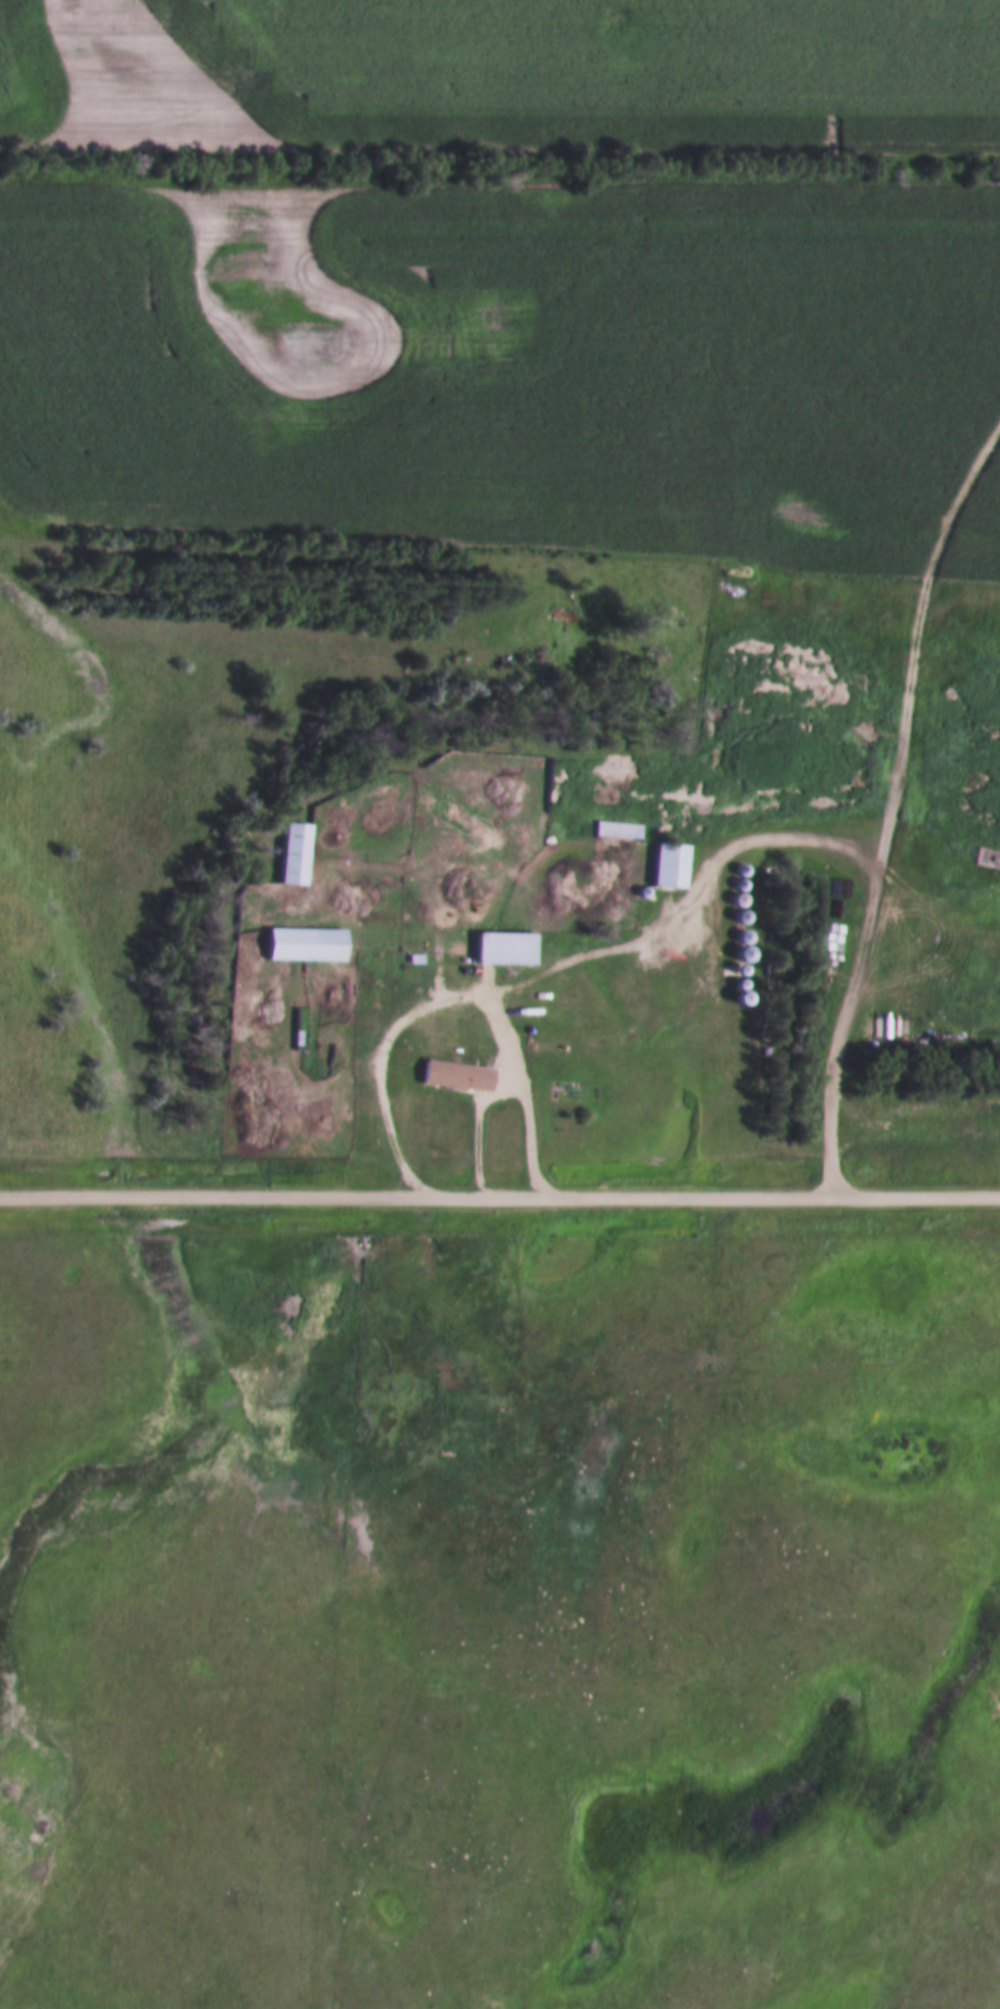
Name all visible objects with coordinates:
road: (925, 627)
building: (615, 830)
building: (290, 856)
building: (666, 867)
building: (734, 901)
building: (738, 917)
building: (301, 946)
building: (501, 949)
road: (581, 953)
building: (742, 954)
road: (844, 1010)
building: (452, 1077)
road: (512, 1092)
road: (499, 1193)

